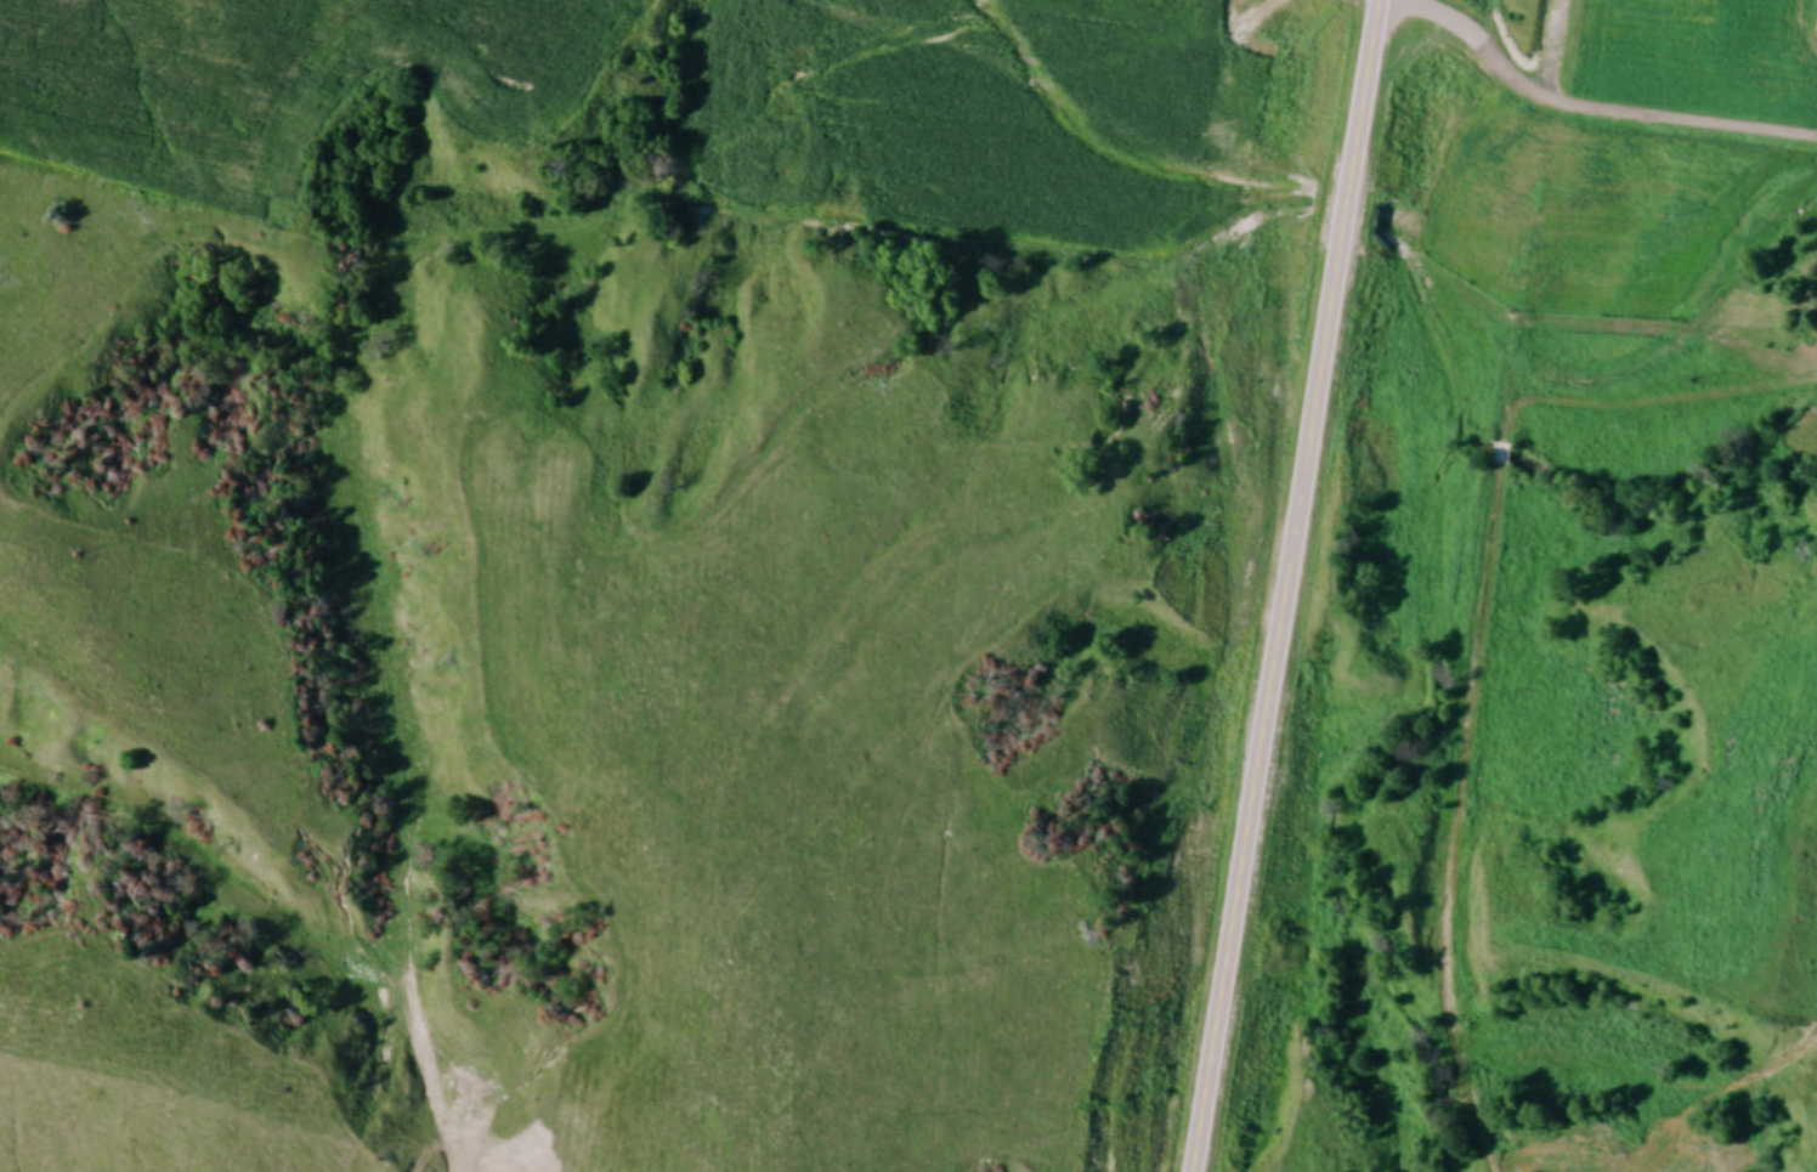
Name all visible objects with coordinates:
road: (1584, 113)
building: (1501, 457)
road: (1286, 585)

